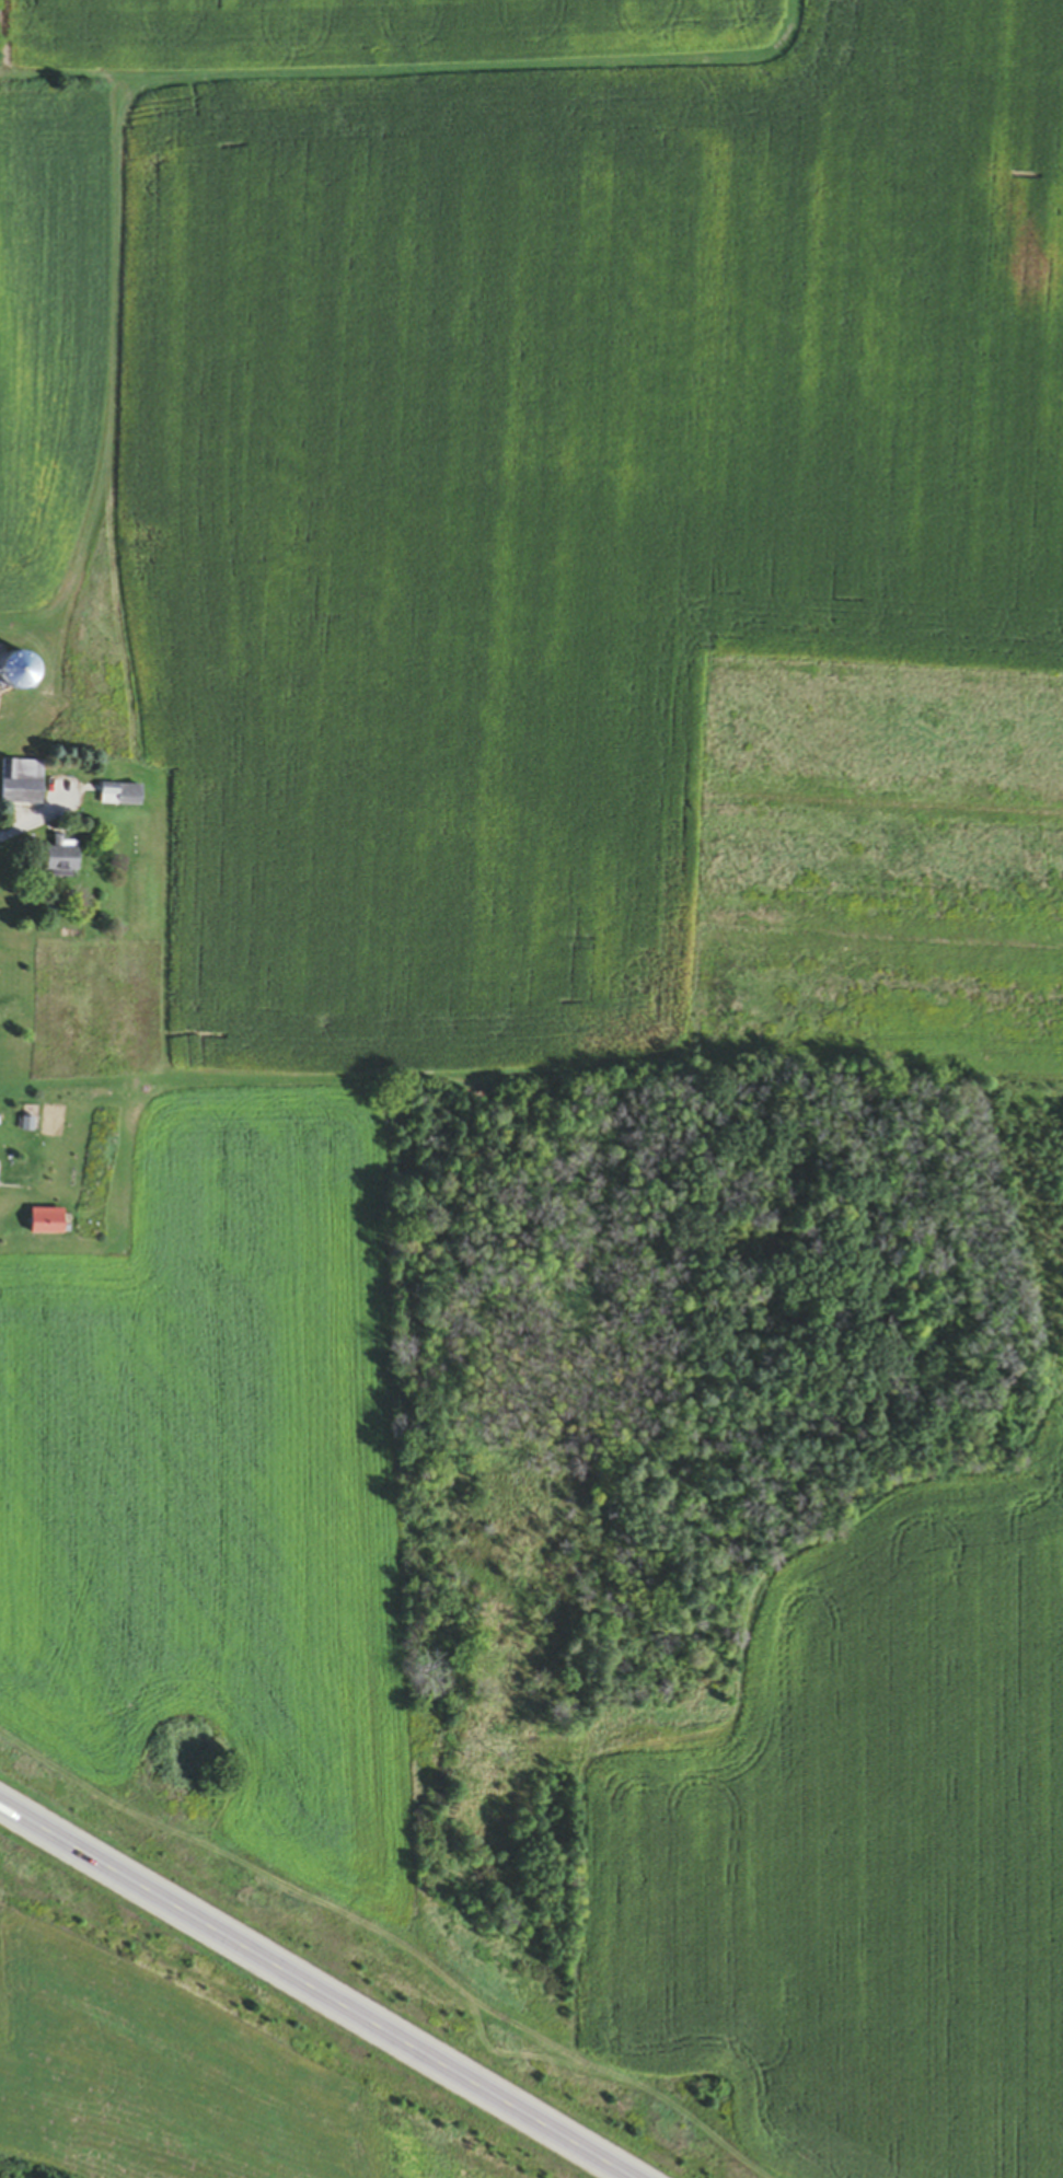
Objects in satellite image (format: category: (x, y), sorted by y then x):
building: (22, 785)
building: (122, 797)
road: (37, 823)
building: (63, 859)
road: (313, 1992)

